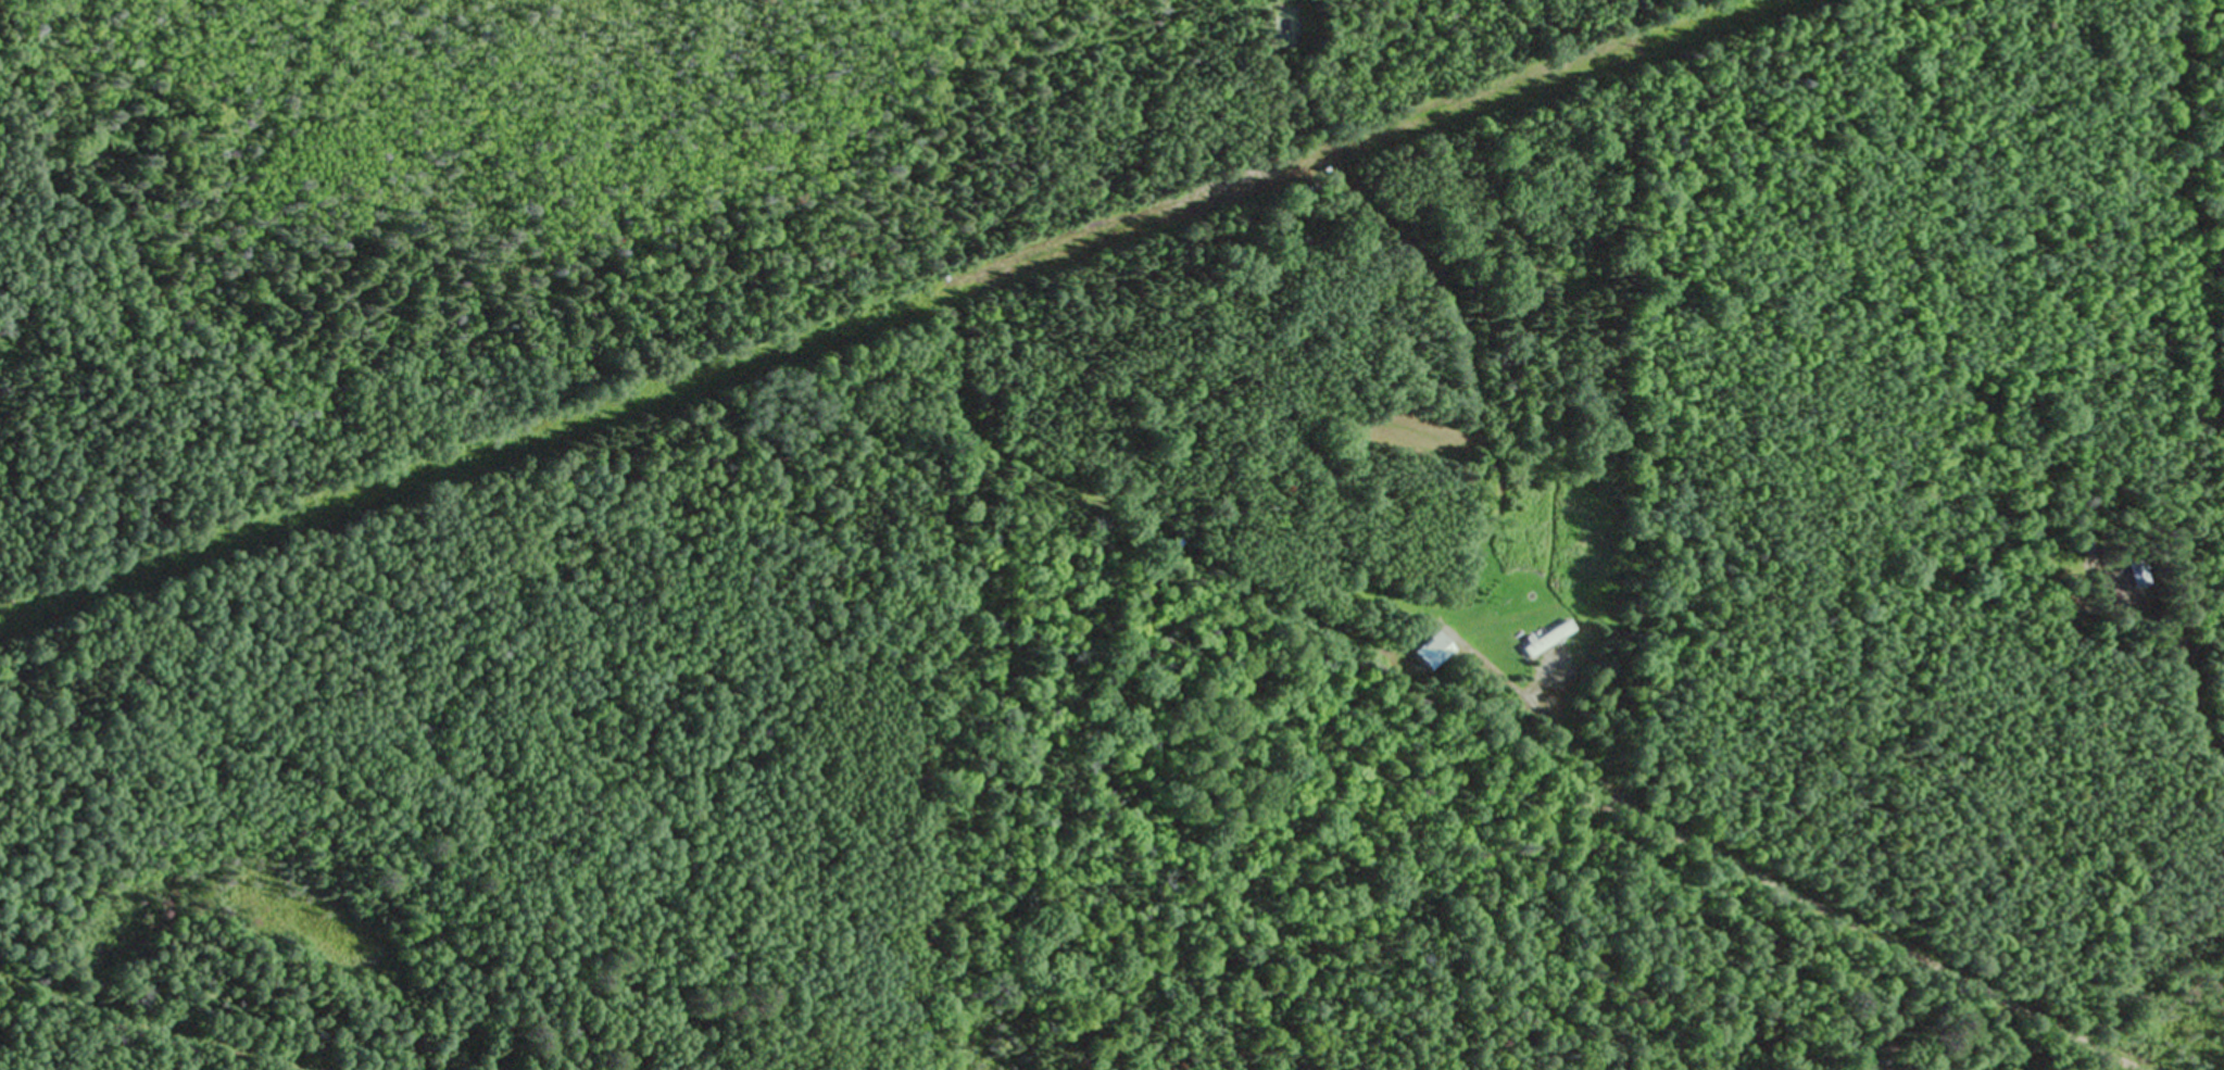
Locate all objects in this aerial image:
building: (1545, 642)
building: (1431, 654)
road: (1862, 933)
road: (152, 1025)

